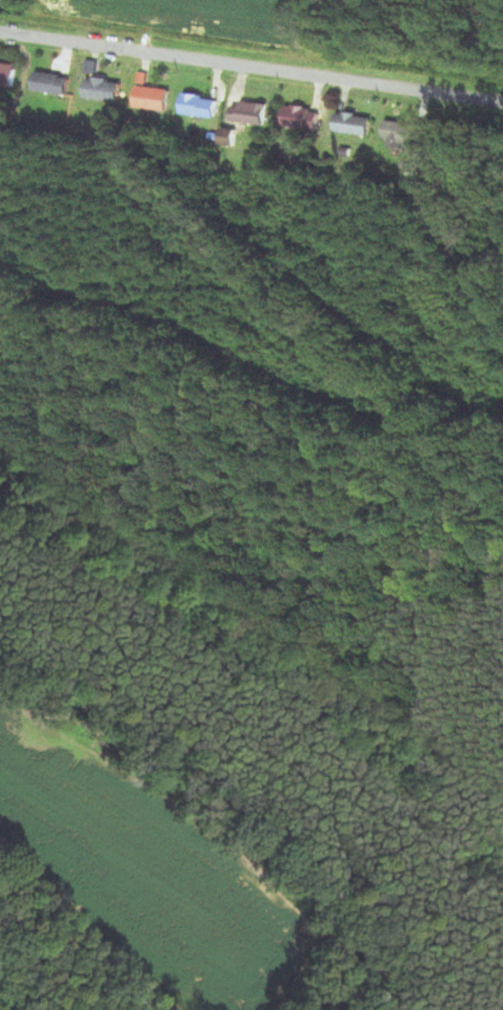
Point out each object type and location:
road: (251, 67)
building: (10, 75)
building: (57, 85)
building: (108, 90)
building: (158, 99)
building: (205, 107)
building: (256, 114)
building: (309, 120)
building: (361, 125)
building: (410, 136)

